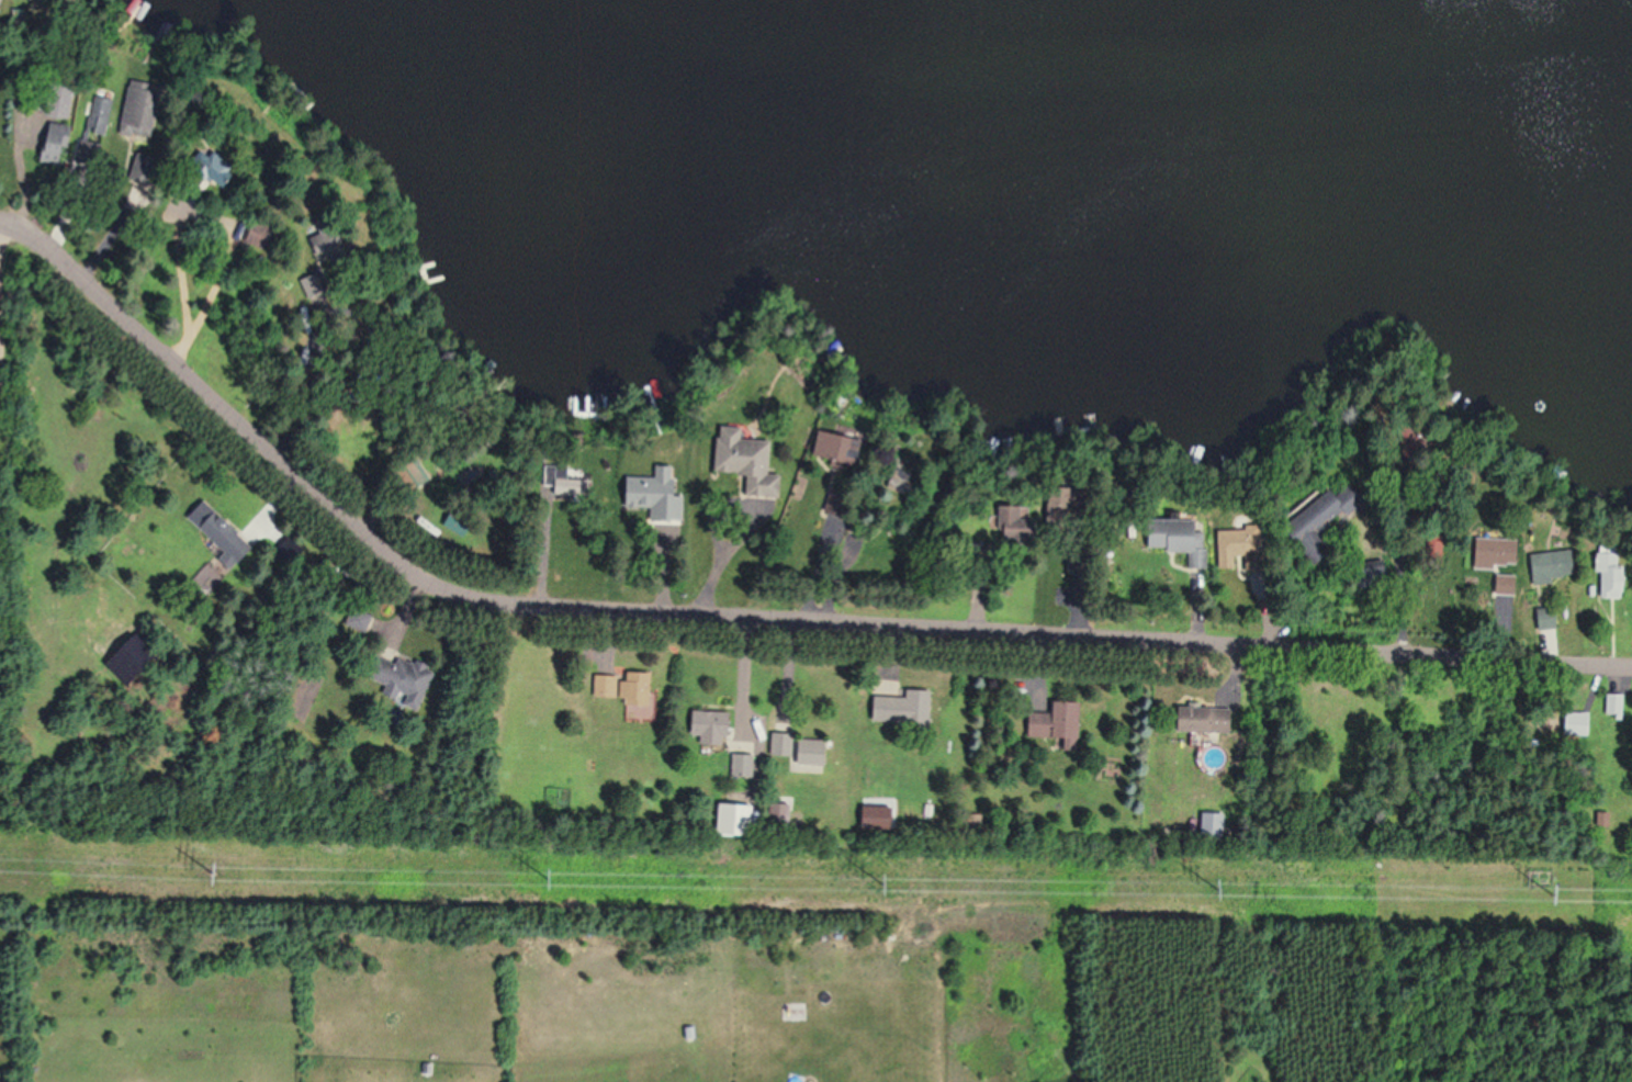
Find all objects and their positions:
building: (66, 109)
building: (147, 110)
building: (61, 151)
building: (149, 167)
building: (218, 167)
building: (265, 235)
building: (845, 447)
building: (1328, 522)
building: (227, 543)
building: (1185, 548)
building: (1242, 550)
building: (1507, 553)
building: (1555, 568)
building: (1553, 620)
road: (749, 621)
building: (149, 643)
building: (407, 679)
building: (631, 691)
building: (907, 707)
building: (1209, 720)
building: (1061, 724)
building: (1579, 724)
building: (716, 725)
building: (785, 744)
building: (814, 755)
building: (746, 765)

